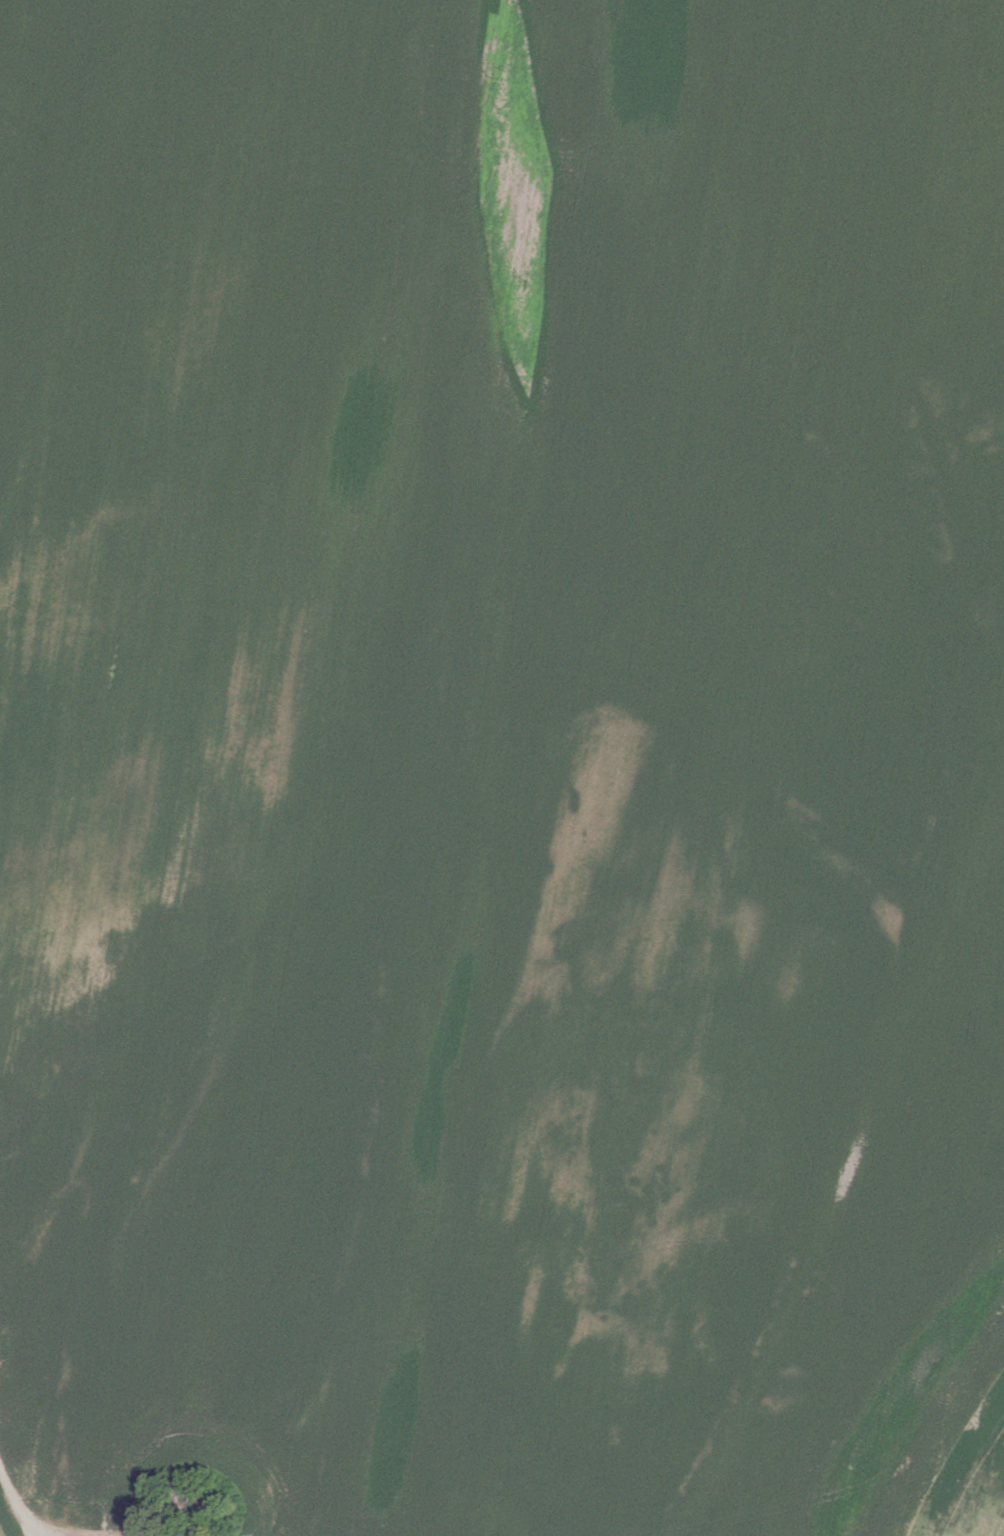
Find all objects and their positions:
crop: (502, 768)
road: (14, 1500)

